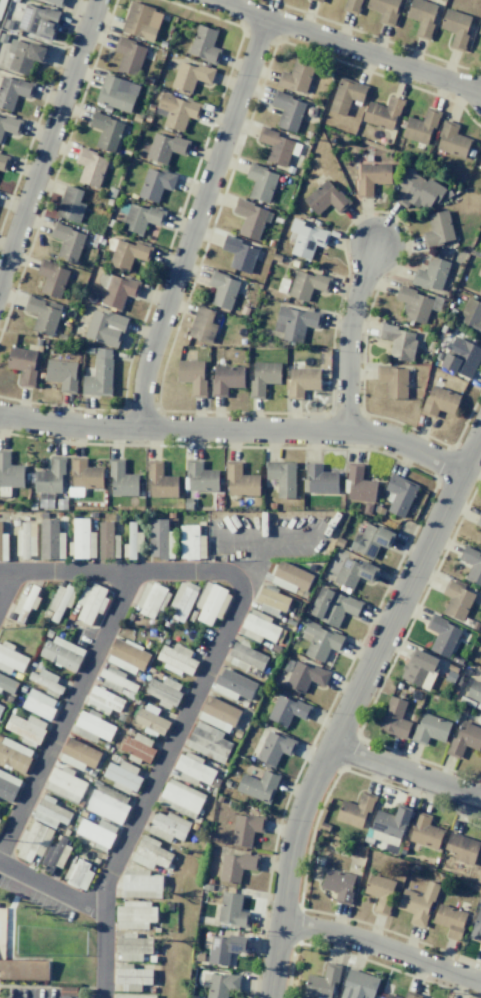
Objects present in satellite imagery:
building: (317, 0)
building: (55, 2)
building: (1, 4)
building: (352, 5)
building: (384, 9)
building: (422, 16)
building: (38, 21)
building: (139, 21)
building: (456, 27)
building: (479, 29)
building: (204, 44)
road: (348, 46)
building: (23, 55)
building: (129, 56)
building: (190, 76)
building: (296, 77)
building: (12, 91)
building: (116, 93)
building: (345, 95)
building: (287, 110)
building: (177, 111)
building: (383, 113)
building: (9, 125)
building: (421, 127)
building: (105, 130)
road: (48, 138)
building: (450, 139)
building: (275, 146)
building: (164, 147)
building: (3, 162)
building: (480, 163)
building: (90, 167)
building: (371, 177)
building: (260, 182)
building: (156, 183)
building: (416, 189)
building: (326, 197)
building: (70, 204)
building: (140, 218)
building: (249, 218)
road: (194, 220)
building: (437, 228)
building: (306, 239)
building: (67, 242)
building: (126, 253)
building: (239, 253)
building: (431, 274)
building: (51, 277)
building: (307, 285)
building: (222, 289)
building: (479, 289)
building: (116, 290)
building: (414, 303)
building: (41, 315)
building: (471, 316)
building: (296, 322)
building: (202, 325)
building: (105, 327)
road: (347, 333)
building: (397, 341)
building: (461, 357)
building: (23, 365)
building: (63, 374)
building: (99, 374)
building: (192, 376)
building: (263, 377)
building: (226, 379)
building: (302, 381)
building: (392, 381)
building: (439, 402)
road: (234, 427)
building: (10, 471)
building: (84, 474)
building: (49, 476)
building: (200, 476)
building: (281, 477)
building: (121, 479)
building: (159, 480)
building: (318, 480)
building: (240, 481)
building: (359, 484)
building: (400, 494)
building: (479, 520)
building: (25, 539)
building: (158, 539)
building: (50, 540)
building: (81, 540)
building: (370, 540)
building: (107, 541)
building: (132, 542)
building: (191, 543)
building: (3, 546)
building: (472, 564)
road: (114, 571)
building: (354, 572)
building: (290, 578)
road: (7, 585)
building: (456, 599)
building: (150, 600)
building: (182, 600)
building: (60, 601)
building: (271, 602)
building: (90, 603)
building: (211, 603)
building: (24, 604)
building: (333, 606)
building: (260, 628)
building: (442, 635)
building: (320, 641)
building: (60, 653)
building: (126, 656)
building: (245, 658)
building: (10, 659)
building: (176, 659)
building: (420, 669)
building: (304, 676)
building: (45, 680)
building: (116, 680)
building: (7, 684)
building: (233, 685)
building: (474, 691)
building: (164, 692)
building: (103, 701)
building: (38, 704)
road: (349, 704)
building: (0, 708)
road: (66, 710)
building: (286, 710)
building: (218, 714)
building: (394, 718)
building: (150, 720)
building: (92, 727)
building: (26, 729)
building: (429, 729)
building: (464, 738)
building: (208, 742)
building: (137, 748)
building: (274, 748)
building: (78, 754)
building: (14, 755)
road: (405, 772)
building: (122, 776)
road: (154, 778)
building: (64, 784)
building: (258, 785)
building: (8, 786)
building: (110, 793)
building: (180, 798)
building: (106, 807)
building: (355, 809)
building: (49, 812)
building: (387, 825)
building: (167, 826)
building: (323, 826)
building: (245, 829)
building: (424, 831)
building: (96, 833)
building: (32, 842)
building: (462, 848)
building: (149, 853)
building: (55, 855)
building: (319, 861)
building: (236, 866)
building: (78, 874)
building: (140, 884)
building: (338, 885)
road: (50, 887)
building: (380, 893)
building: (418, 902)
building: (231, 910)
building: (134, 915)
building: (449, 920)
building: (476, 928)
building: (132, 947)
building: (225, 947)
road: (383, 949)
building: (24, 970)
building: (132, 977)
building: (322, 982)
building: (221, 985)
building: (358, 985)
building: (411, 995)
building: (134, 996)
building: (390, 996)
building: (429, 997)

